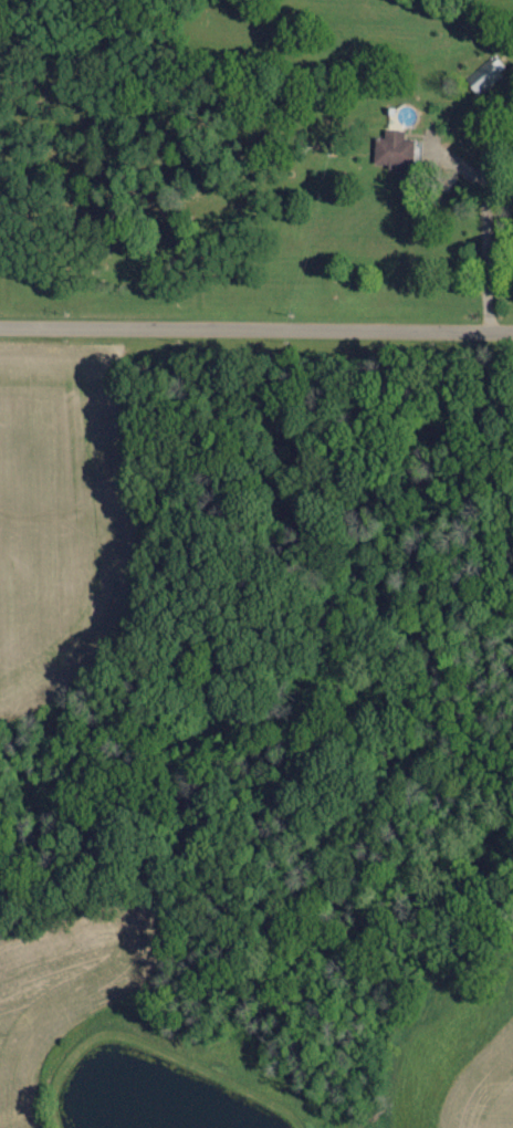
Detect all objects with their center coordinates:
building: (485, 74)
building: (394, 149)
road: (484, 250)
road: (255, 340)

